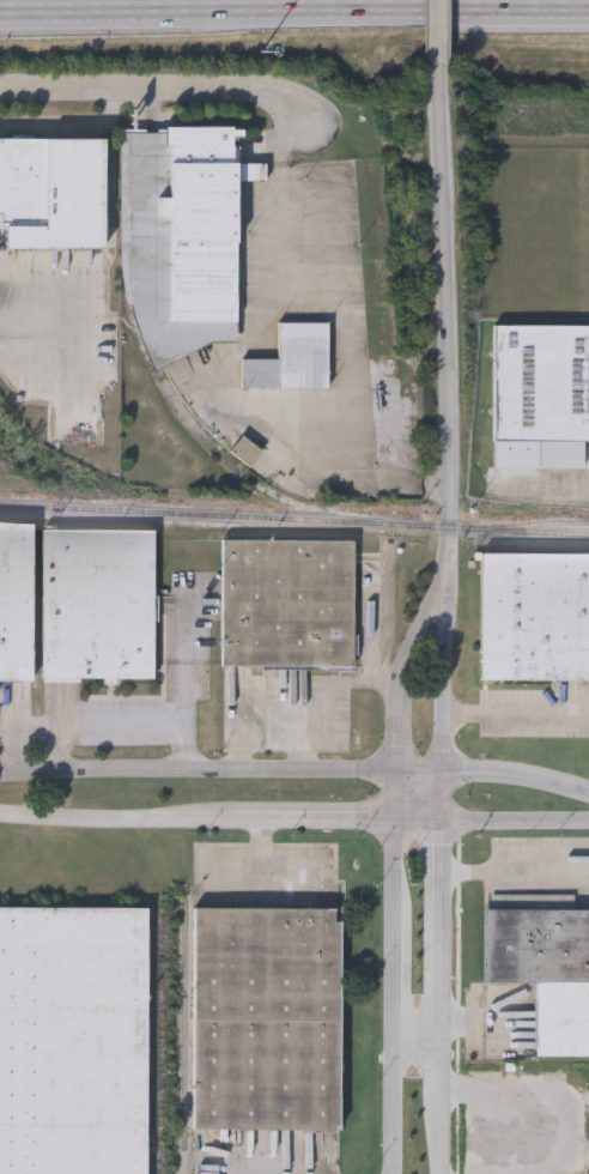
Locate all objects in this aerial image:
road: (294, 11)
road: (180, 28)
road: (438, 31)
road: (165, 80)
building: (51, 193)
building: (180, 237)
road: (38, 293)
road: (344, 307)
road: (447, 319)
building: (292, 361)
building: (541, 398)
road: (542, 492)
railway: (553, 518)
railway: (293, 520)
railway: (546, 551)
building: (16, 600)
building: (97, 604)
building: (287, 604)
building: (534, 618)
road: (447, 674)
road: (274, 683)
road: (517, 714)
road: (117, 721)
road: (303, 728)
road: (60, 749)
road: (8, 750)
road: (220, 775)
road: (516, 782)
road: (442, 798)
road: (514, 860)
road: (394, 869)
road: (443, 925)
building: (544, 970)
railway: (184, 1011)
building: (266, 1018)
road: (419, 1029)
building: (73, 1040)
railway: (152, 1047)
road: (445, 1060)
road: (447, 1133)

